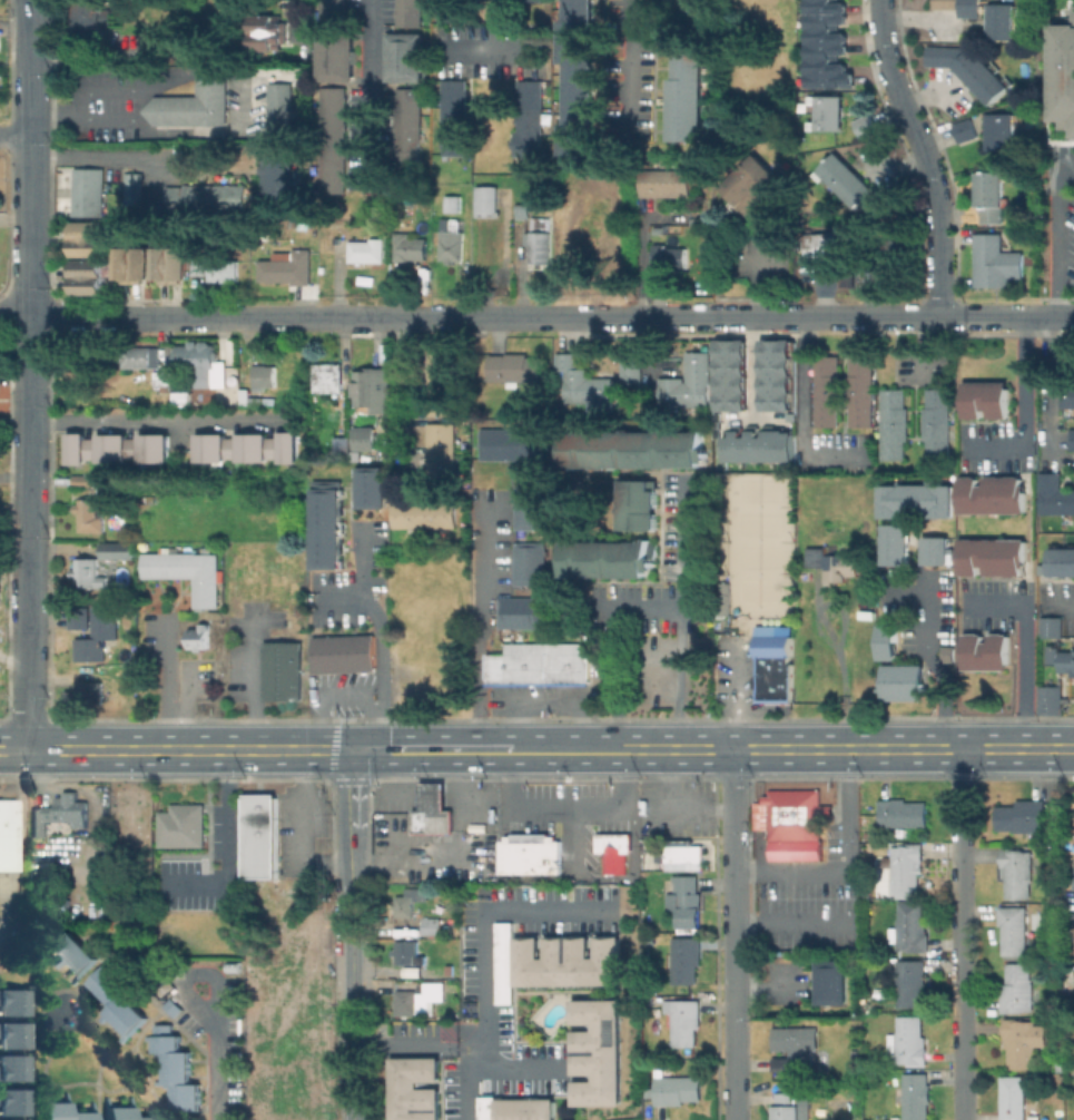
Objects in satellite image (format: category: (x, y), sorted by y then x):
building: (532, 0)
building: (945, 4)
building: (969, 8)
building: (453, 10)
building: (700, 10)
building: (335, 12)
building: (411, 12)
building: (999, 12)
building: (91, 17)
road: (295, 24)
road: (492, 24)
building: (999, 30)
road: (910, 31)
building: (269, 33)
building: (179, 42)
building: (826, 45)
road: (485, 49)
building: (407, 56)
building: (337, 57)
road: (630, 67)
building: (970, 69)
building: (1065, 73)
building: (579, 76)
road: (367, 90)
building: (687, 97)
building: (195, 104)
building: (825, 104)
building: (280, 106)
building: (456, 118)
building: (530, 118)
building: (825, 121)
building: (998, 121)
building: (408, 125)
building: (861, 126)
building: (963, 130)
road: (16, 134)
building: (334, 139)
building: (999, 139)
road: (107, 153)
road: (925, 154)
building: (86, 179)
building: (277, 180)
building: (667, 183)
building: (858, 185)
building: (757, 187)
building: (130, 193)
building: (991, 195)
building: (203, 197)
building: (86, 204)
building: (454, 205)
building: (523, 208)
building: (489, 224)
road: (1046, 228)
building: (453, 240)
building: (829, 243)
building: (812, 244)
building: (341, 246)
building: (368, 249)
building: (410, 250)
building: (541, 252)
building: (898, 253)
building: (670, 257)
building: (89, 258)
building: (200, 261)
building: (996, 261)
building: (135, 264)
building: (171, 264)
building: (871, 264)
building: (287, 267)
building: (224, 269)
road: (376, 315)
road: (637, 315)
road: (752, 315)
road: (874, 315)
road: (1004, 315)
road: (1063, 315)
road: (16, 316)
road: (112, 316)
building: (145, 358)
building: (201, 362)
building: (629, 366)
road: (752, 367)
building: (515, 369)
building: (826, 373)
road: (31, 374)
building: (730, 374)
building: (775, 374)
building: (858, 374)
building: (265, 376)
building: (328, 376)
road: (1045, 380)
building: (440, 383)
building: (687, 383)
building: (164, 384)
building: (584, 385)
building: (373, 391)
building: (1066, 396)
building: (985, 399)
building: (184, 400)
building: (247, 400)
building: (891, 406)
building: (935, 406)
road: (1024, 406)
building: (826, 409)
building: (858, 409)
road: (802, 412)
road: (160, 420)
building: (1071, 439)
building: (357, 441)
building: (891, 441)
building: (935, 441)
building: (513, 443)
building: (758, 444)
building: (247, 445)
building: (117, 446)
building: (633, 449)
building: (440, 453)
road: (16, 480)
building: (89, 480)
building: (371, 487)
building: (991, 494)
building: (1053, 494)
building: (151, 498)
building: (917, 500)
building: (640, 504)
building: (531, 507)
building: (91, 513)
building: (422, 513)
building: (324, 523)
road: (682, 543)
building: (896, 543)
building: (120, 548)
building: (937, 550)
building: (991, 556)
building: (610, 558)
building: (1061, 561)
building: (531, 562)
building: (834, 563)
building: (87, 572)
building: (187, 572)
road: (338, 597)
road: (644, 607)
building: (520, 611)
building: (868, 612)
road: (475, 622)
building: (1048, 626)
building: (90, 629)
road: (378, 636)
building: (199, 637)
building: (888, 640)
road: (1024, 647)
road: (927, 650)
building: (984, 651)
building: (345, 652)
building: (948, 652)
building: (1060, 657)
building: (542, 662)
building: (771, 662)
building: (285, 671)
building: (66, 679)
building: (906, 681)
road: (161, 682)
building: (87, 695)
road: (736, 698)
building: (1051, 700)
road: (305, 747)
road: (642, 748)
road: (874, 748)
road: (570, 808)
road: (674, 808)
building: (433, 809)
building: (903, 812)
building: (59, 814)
road: (352, 814)
building: (1023, 815)
building: (797, 816)
building: (181, 827)
road: (307, 829)
building: (9, 833)
building: (262, 835)
road: (229, 848)
building: (613, 851)
building: (530, 853)
building: (683, 854)
road: (848, 867)
building: (906, 867)
building: (1016, 871)
road: (735, 876)
road: (611, 880)
building: (1073, 884)
building: (684, 901)
building: (410, 902)
building: (50, 904)
road: (7, 907)
road: (479, 922)
road: (818, 922)
building: (432, 925)
building: (910, 927)
building: (1013, 929)
building: (1073, 929)
road: (964, 934)
building: (408, 952)
building: (75, 953)
building: (684, 959)
building: (565, 961)
building: (502, 962)
building: (417, 972)
road: (188, 973)
building: (912, 983)
building: (832, 984)
building: (1018, 989)
building: (434, 990)
building: (119, 999)
road: (352, 999)
building: (406, 1000)
building: (11, 1001)
building: (175, 1006)
building: (684, 1022)
building: (11, 1034)
road: (404, 1035)
building: (907, 1041)
building: (1019, 1041)
building: (795, 1048)
building: (595, 1051)
building: (871, 1061)
road: (733, 1062)
road: (509, 1065)
building: (11, 1067)
building: (1062, 1067)
building: (178, 1068)
road: (217, 1069)
road: (462, 1074)
building: (851, 1088)
building: (413, 1089)
building: (677, 1089)
building: (913, 1096)
building: (1013, 1097)
building: (11, 1101)
building: (787, 1107)
building: (523, 1109)
building: (61, 1112)
building: (125, 1114)

